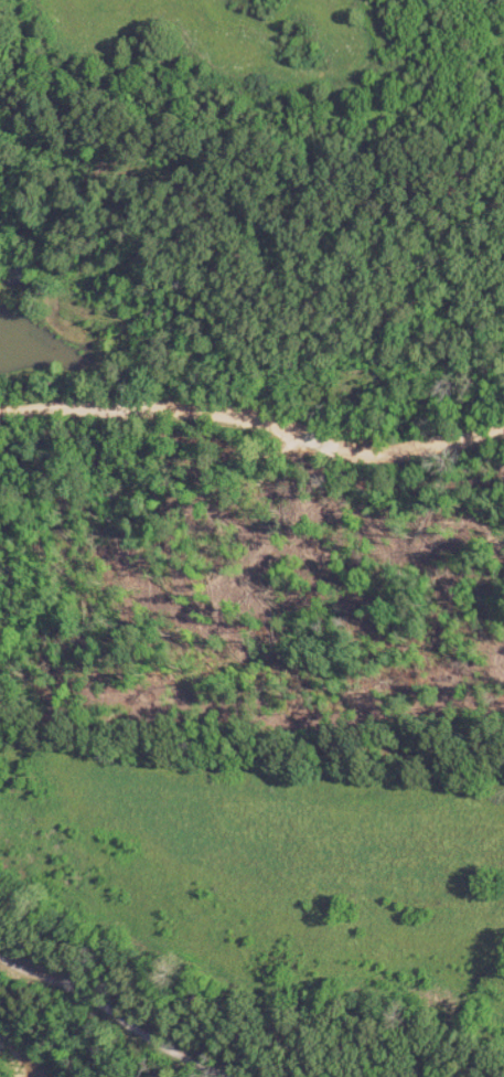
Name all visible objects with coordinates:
road: (254, 426)
road: (116, 1012)

